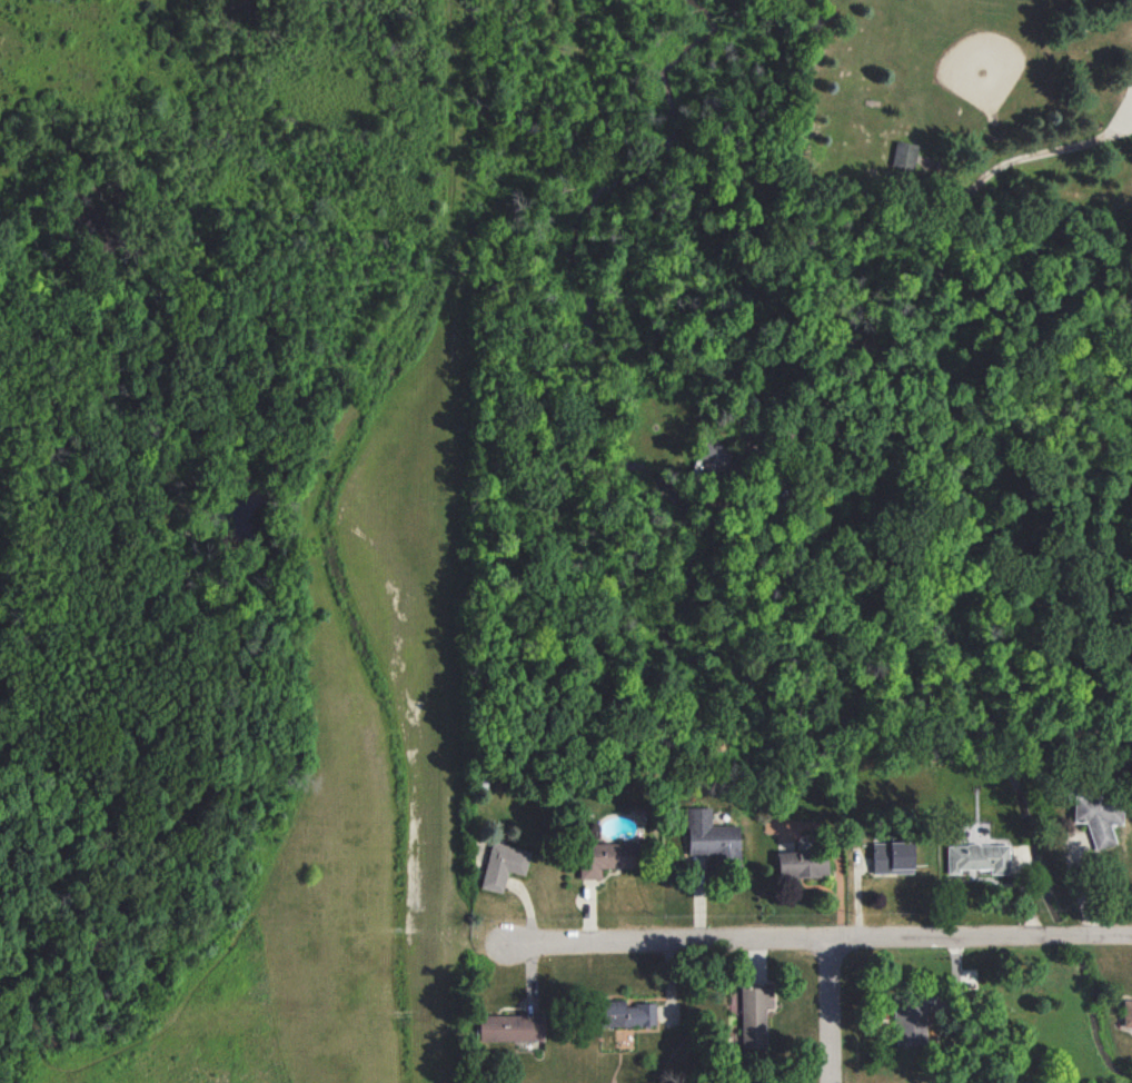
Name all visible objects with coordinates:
building: (906, 155)
road: (960, 219)
road: (744, 448)
building: (714, 456)
road: (979, 608)
building: (1099, 817)
building: (709, 835)
building: (892, 856)
building: (605, 857)
building: (979, 857)
building: (802, 863)
building: (504, 864)
road: (811, 940)
road: (830, 1011)
building: (626, 1013)
building: (1128, 1013)
building: (754, 1014)
building: (911, 1025)
building: (510, 1027)

